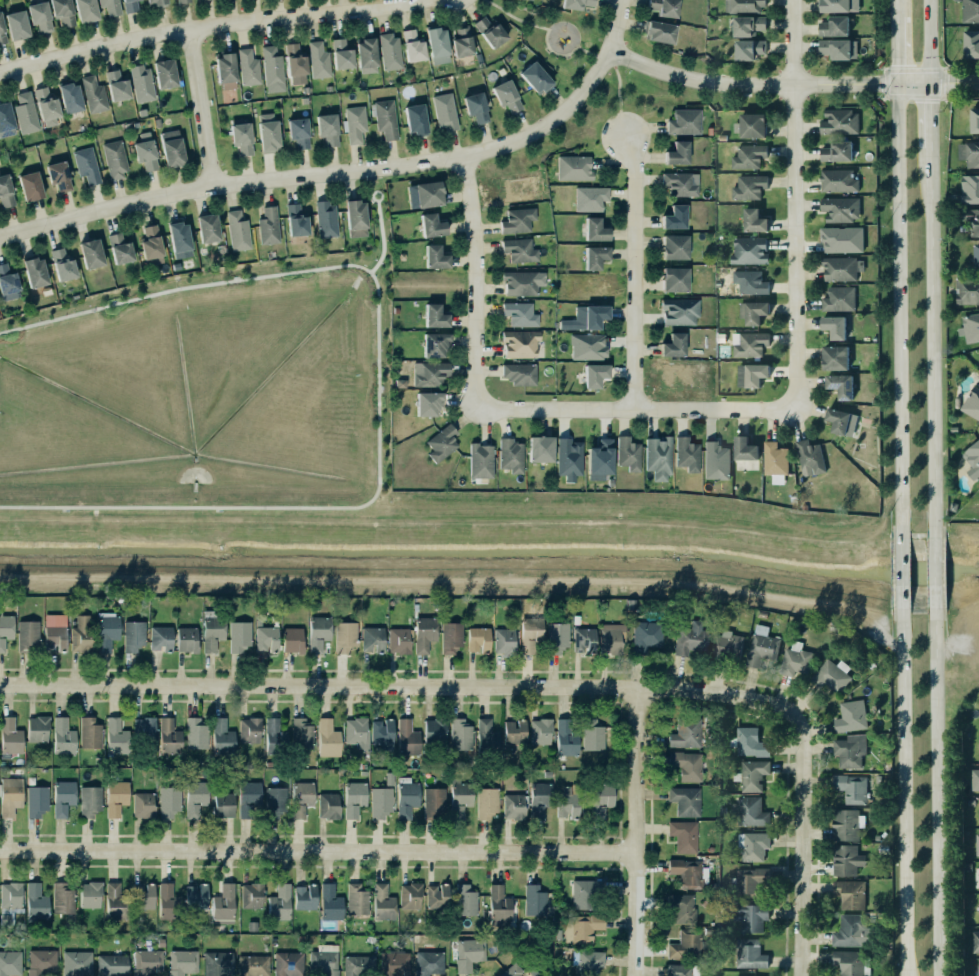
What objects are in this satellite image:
building: (180, 1)
building: (157, 2)
building: (574, 3)
building: (128, 5)
building: (743, 5)
building: (836, 5)
building: (108, 6)
building: (664, 7)
road: (894, 9)
building: (83, 10)
building: (970, 11)
building: (63, 12)
building: (38, 15)
road: (515, 17)
building: (14, 23)
road: (617, 24)
building: (746, 24)
building: (834, 27)
road: (212, 28)
building: (657, 30)
building: (491, 32)
building: (1, 34)
park: (553, 36)
building: (462, 41)
road: (925, 41)
building: (435, 43)
building: (411, 44)
building: (971, 44)
building: (836, 48)
building: (749, 49)
building: (390, 51)
road: (552, 51)
road: (584, 51)
road: (895, 51)
building: (339, 53)
building: (364, 54)
building: (293, 59)
road: (604, 59)
building: (319, 60)
building: (248, 67)
building: (224, 68)
building: (271, 68)
building: (162, 72)
building: (533, 76)
building: (139, 82)
traffic signals: (926, 83)
road: (952, 83)
building: (114, 84)
traffic signals: (895, 84)
road: (766, 85)
road: (617, 87)
building: (91, 93)
building: (506, 95)
building: (68, 96)
building: (45, 106)
building: (474, 106)
road: (201, 109)
building: (443, 111)
building: (25, 113)
road: (927, 114)
building: (384, 118)
building: (5, 119)
building: (414, 119)
building: (974, 120)
building: (682, 121)
building: (836, 121)
building: (353, 123)
building: (749, 124)
building: (328, 129)
park: (594, 129)
building: (296, 130)
building: (268, 132)
building: (239, 136)
building: (170, 146)
building: (834, 150)
building: (143, 151)
building: (675, 151)
building: (969, 153)
building: (113, 157)
building: (748, 157)
building: (86, 164)
building: (574, 168)
road: (325, 173)
building: (59, 176)
building: (837, 181)
building: (680, 183)
building: (30, 186)
building: (746, 186)
building: (970, 189)
building: (6, 191)
road: (375, 192)
building: (426, 192)
building: (588, 197)
road: (795, 204)
building: (840, 209)
building: (675, 217)
building: (356, 218)
building: (294, 219)
building: (326, 219)
building: (518, 220)
building: (972, 220)
building: (754, 221)
building: (429, 223)
building: (268, 225)
building: (206, 226)
building: (595, 230)
building: (238, 231)
building: (839, 236)
road: (382, 238)
building: (179, 239)
building: (151, 246)
building: (675, 247)
building: (119, 249)
building: (520, 250)
building: (749, 250)
building: (91, 253)
building: (433, 255)
building: (593, 255)
building: (976, 257)
building: (63, 265)
road: (637, 268)
building: (841, 269)
building: (35, 272)
building: (673, 278)
building: (523, 282)
building: (750, 282)
building: (8, 283)
road: (477, 283)
road: (184, 288)
building: (967, 290)
building: (837, 298)
road: (897, 309)
building: (680, 311)
building: (753, 312)
building: (518, 313)
building: (433, 315)
building: (585, 318)
building: (835, 327)
building: (970, 328)
road: (932, 340)
building: (520, 344)
building: (672, 344)
building: (749, 344)
building: (436, 345)
building: (588, 346)
building: (833, 357)
building: (427, 373)
building: (518, 373)
building: (594, 375)
building: (751, 375)
building: (838, 384)
building: (429, 403)
building: (972, 404)
road: (638, 407)
building: (841, 422)
building: (442, 443)
building: (538, 448)
building: (626, 452)
building: (685, 453)
building: (567, 454)
building: (743, 454)
building: (508, 455)
building: (656, 457)
building: (807, 457)
building: (772, 458)
building: (600, 459)
building: (479, 460)
building: (973, 460)
building: (716, 461)
park: (335, 465)
road: (302, 508)
road: (932, 573)
road: (900, 575)
building: (107, 630)
building: (212, 631)
building: (55, 632)
building: (319, 633)
building: (28, 634)
building: (530, 634)
building: (237, 635)
building: (644, 635)
building: (7, 636)
building: (134, 636)
building: (345, 636)
building: (426, 636)
building: (83, 637)
building: (371, 637)
building: (451, 637)
building: (557, 637)
building: (612, 637)
building: (161, 638)
building: (581, 638)
building: (691, 638)
building: (187, 639)
building: (267, 639)
building: (290, 639)
building: (479, 639)
building: (399, 640)
building: (504, 641)
building: (727, 646)
building: (759, 649)
building: (793, 659)
building: (832, 675)
road: (394, 684)
building: (851, 716)
building: (142, 722)
building: (35, 728)
building: (249, 730)
building: (380, 731)
building: (435, 731)
building: (481, 731)
building: (541, 731)
building: (88, 732)
building: (357, 732)
building: (515, 732)
building: (194, 733)
building: (302, 733)
building: (686, 733)
building: (458, 734)
building: (591, 734)
building: (220, 735)
building: (11, 736)
building: (64, 736)
building: (116, 736)
building: (167, 736)
building: (274, 736)
building: (405, 737)
building: (564, 737)
building: (326, 738)
building: (749, 743)
building: (850, 751)
building: (687, 765)
building: (752, 775)
building: (975, 780)
building: (854, 788)
road: (935, 793)
building: (9, 794)
building: (458, 796)
road: (903, 796)
building: (63, 797)
building: (116, 797)
building: (196, 798)
building: (301, 798)
building: (354, 798)
building: (405, 798)
building: (537, 798)
building: (167, 800)
building: (601, 800)
building: (683, 800)
building: (90, 801)
building: (432, 801)
building: (485, 801)
building: (37, 802)
building: (251, 802)
building: (381, 802)
building: (568, 802)
building: (143, 804)
building: (277, 804)
building: (224, 805)
building: (328, 805)
building: (514, 806)
building: (748, 812)
building: (845, 825)
road: (644, 831)
building: (684, 836)
road: (807, 836)
building: (978, 844)
building: (753, 846)
road: (322, 849)
building: (844, 859)
building: (687, 872)
building: (749, 882)
building: (88, 893)
building: (584, 893)
building: (850, 894)
building: (252, 895)
building: (410, 895)
building: (144, 896)
building: (437, 896)
building: (305, 897)
building: (357, 899)
building: (464, 899)
building: (10, 900)
building: (198, 900)
building: (535, 900)
building: (166, 901)
building: (64, 902)
building: (116, 902)
building: (280, 902)
building: (381, 902)
building: (37, 903)
building: (330, 903)
building: (224, 904)
building: (497, 905)
building: (680, 907)
building: (750, 917)
building: (582, 927)
building: (849, 933)
building: (975, 942)
building: (684, 944)
building: (467, 953)
building: (750, 954)
building: (325, 960)
building: (9, 962)
building: (39, 962)
building: (147, 962)
building: (183, 962)
building: (426, 962)
building: (587, 962)
building: (849, 962)
building: (77, 963)
building: (286, 963)
building: (393, 963)
building: (218, 964)
building: (109, 965)
building: (251, 965)
building: (359, 965)
building: (978, 969)
building: (679, 970)
building: (512, 971)

